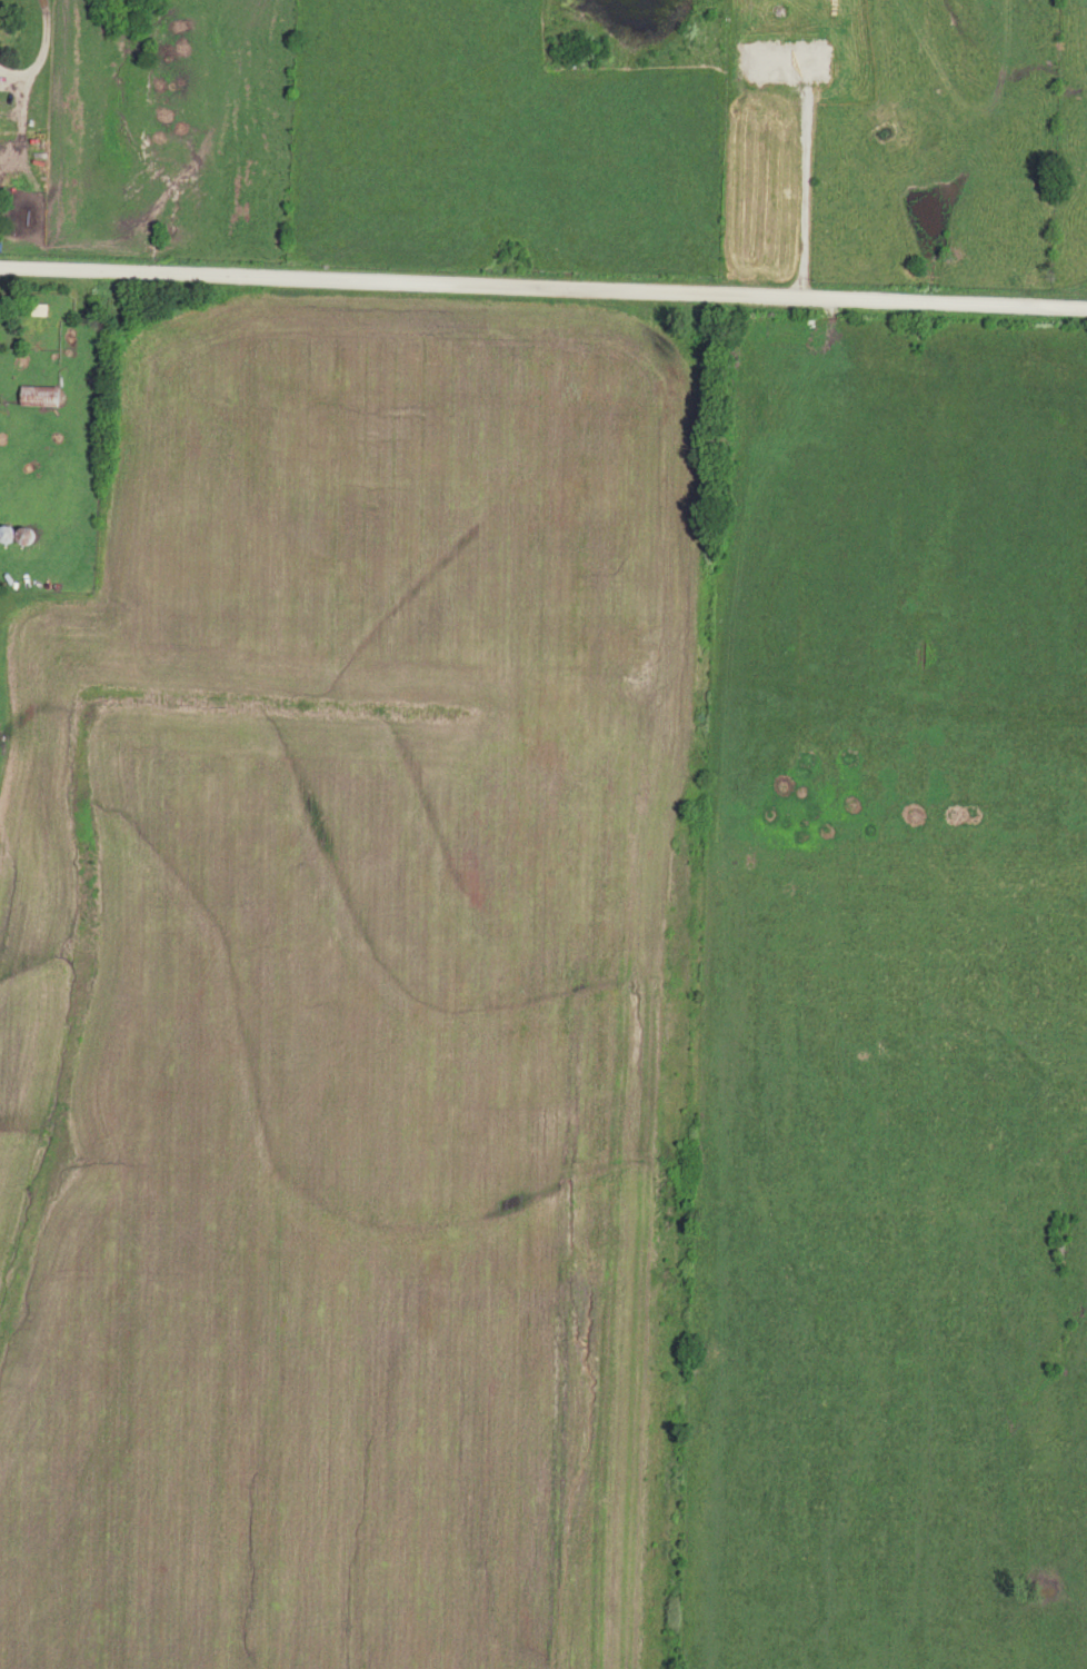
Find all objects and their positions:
road: (33, 44)
road: (543, 279)
building: (10, 533)

